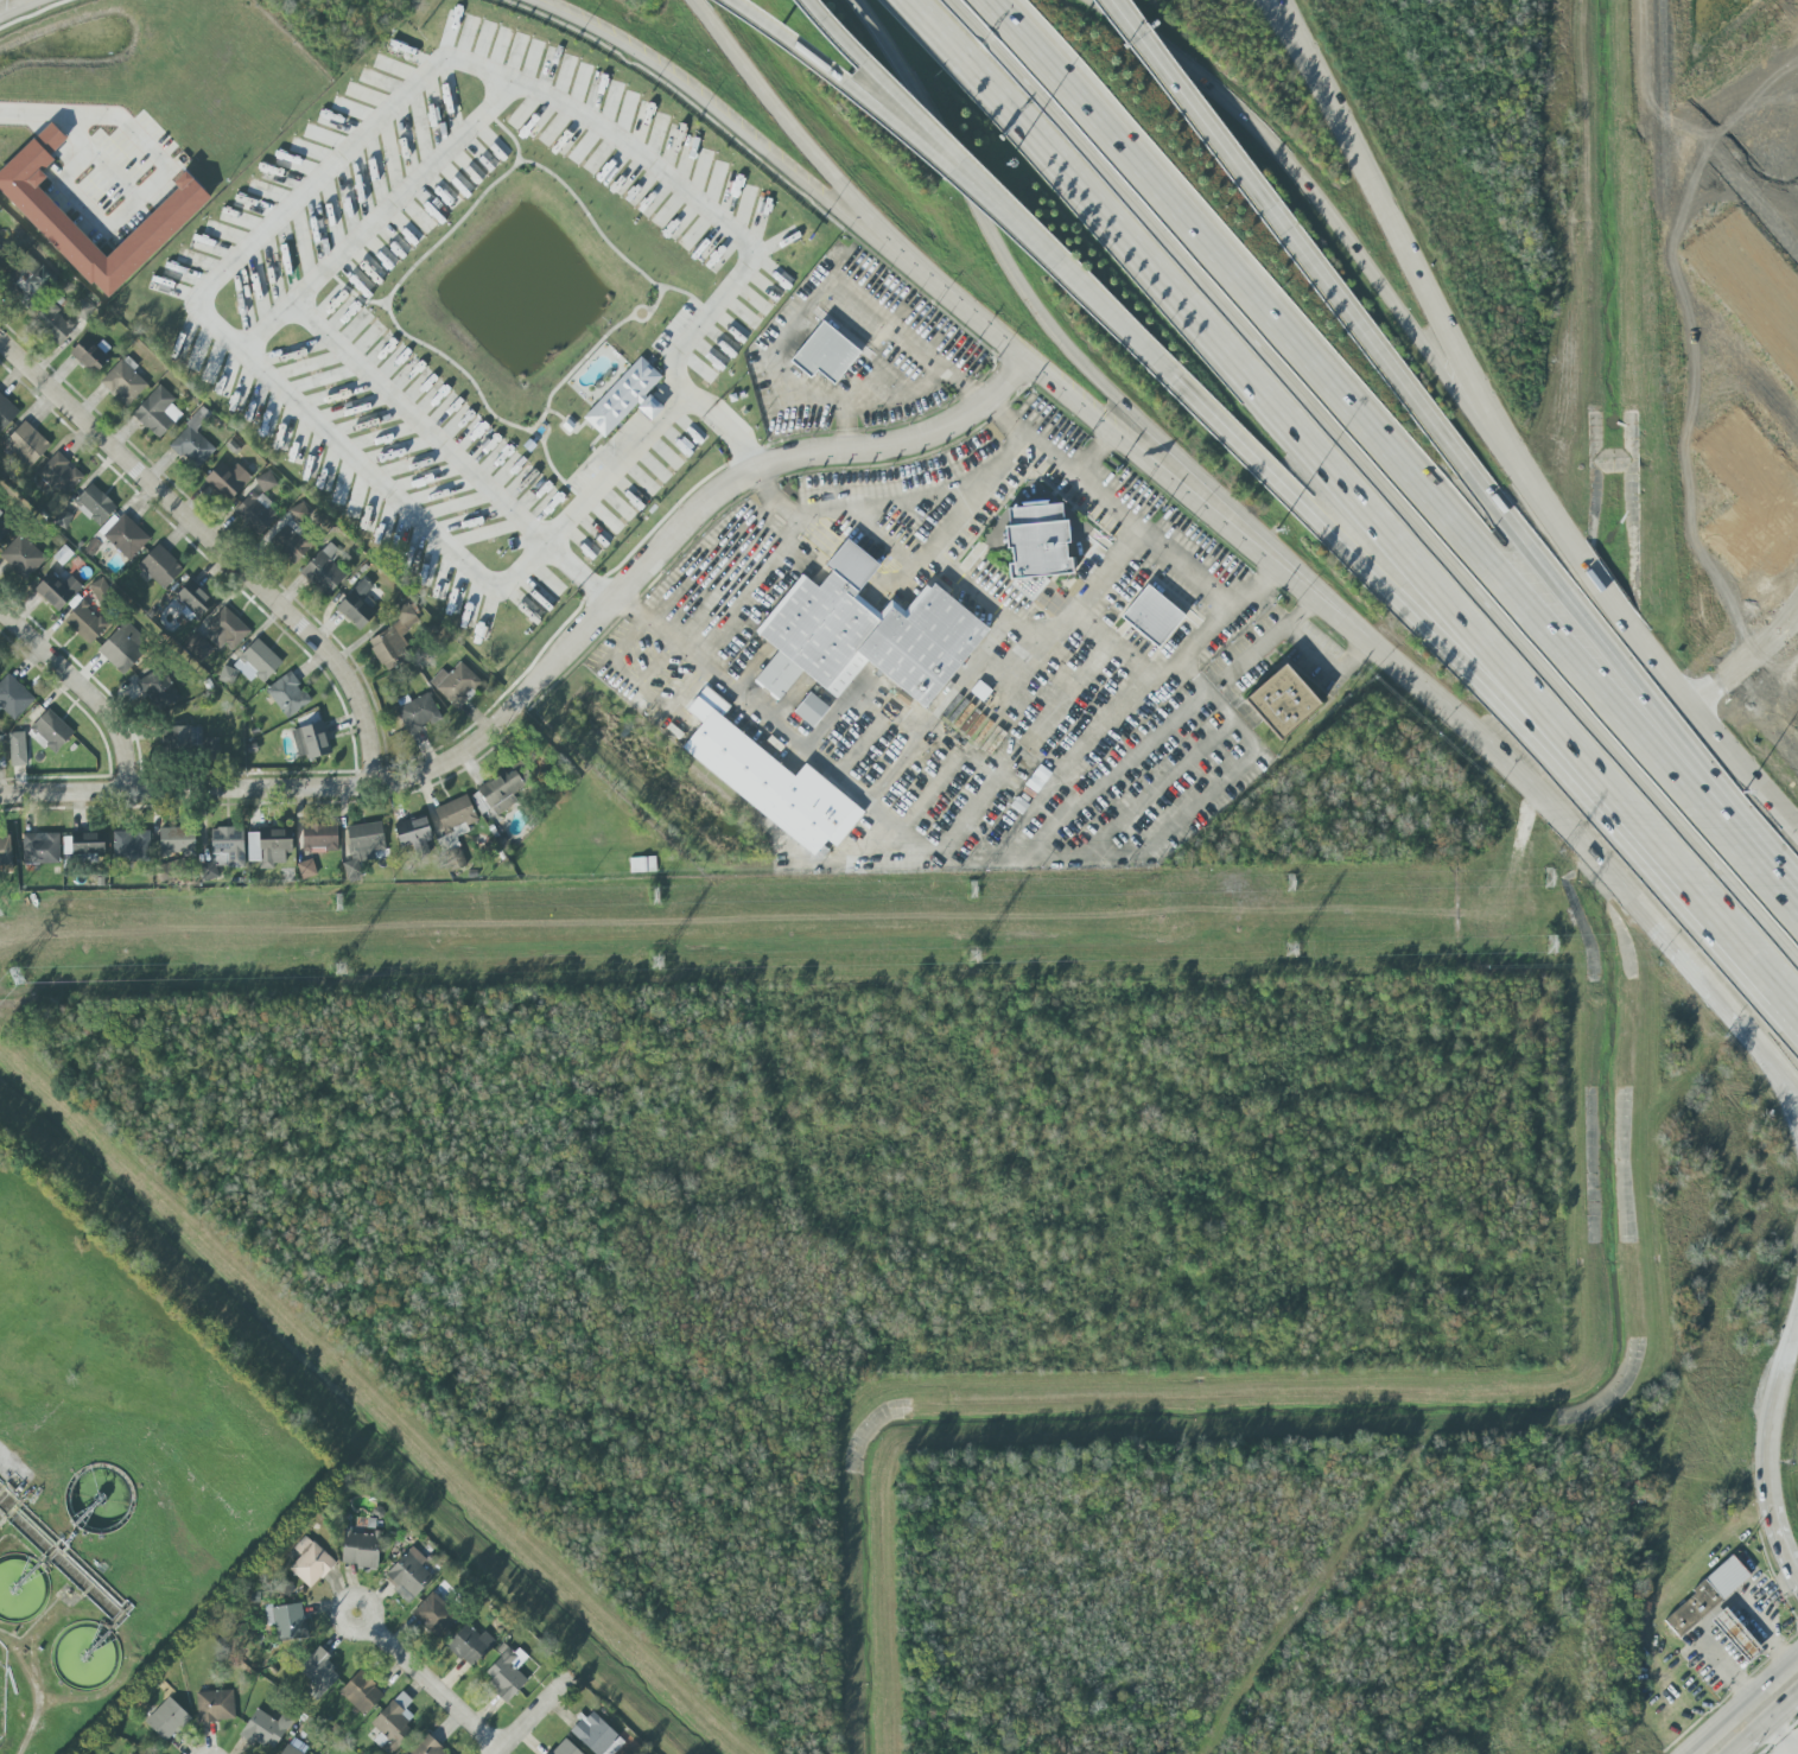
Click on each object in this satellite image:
road: (24, 8)
road: (826, 74)
road: (865, 76)
road: (1315, 76)
road: (710, 107)
road: (1196, 115)
road: (789, 120)
road: (78, 138)
road: (140, 140)
road: (451, 150)
road: (1779, 167)
road: (1298, 190)
road: (981, 193)
road: (81, 204)
building: (158, 227)
road: (919, 275)
building: (36, 284)
road: (831, 285)
road: (1025, 288)
road: (1103, 309)
building: (83, 310)
building: (53, 324)
road: (268, 326)
road: (211, 328)
building: (824, 354)
building: (91, 355)
building: (123, 382)
road: (898, 394)
road: (1245, 394)
building: (625, 398)
building: (6, 412)
building: (157, 412)
road: (1104, 427)
road: (1500, 436)
building: (27, 443)
building: (192, 443)
road: (1392, 452)
road: (1088, 456)
road: (614, 472)
building: (59, 475)
building: (228, 479)
building: (266, 482)
road: (1367, 485)
building: (95, 504)
road: (920, 506)
road: (981, 507)
building: (255, 513)
building: (298, 513)
building: (62, 519)
road: (1129, 529)
building: (126, 536)
road: (215, 542)
building: (292, 542)
building: (1035, 546)
building: (21, 557)
road: (1535, 565)
building: (160, 567)
building: (324, 571)
road: (957, 580)
building: (100, 590)
road: (1309, 590)
building: (57, 591)
road: (1379, 593)
road: (748, 596)
building: (193, 599)
building: (357, 606)
building: (1151, 616)
building: (85, 622)
building: (227, 631)
building: (863, 634)
building: (394, 637)
building: (122, 648)
road: (1310, 649)
building: (256, 662)
road: (1746, 662)
road: (549, 672)
road: (1155, 675)
building: (456, 684)
road: (83, 687)
building: (159, 691)
building: (288, 695)
building: (13, 697)
building: (1282, 701)
building: (811, 710)
building: (419, 713)
road: (774, 725)
building: (51, 731)
building: (182, 738)
building: (310, 741)
building: (17, 749)
building: (1, 751)
building: (768, 779)
building: (501, 792)
building: (453, 822)
road: (1561, 822)
building: (414, 834)
building: (320, 838)
building: (177, 840)
building: (66, 845)
building: (88, 845)
building: (131, 845)
building: (268, 847)
building: (362, 847)
building: (40, 849)
building: (5, 851)
building: (224, 851)
road: (1107, 853)
building: (642, 864)
power tower: (1546, 864)
building: (306, 869)
power tower: (1286, 870)
power tower: (974, 881)
power tower: (648, 885)
power tower: (344, 900)
road: (1696, 909)
power tower: (24, 913)
power tower: (1551, 933)
power tower: (1289, 940)
power tower: (663, 947)
power tower: (970, 947)
power tower: (341, 954)
power tower: (18, 964)
road: (1770, 1051)
road: (1771, 1072)
road: (1790, 1372)
road: (7, 1457)
road: (1770, 1489)
building: (97, 1499)
building: (361, 1550)
building: (310, 1562)
building: (407, 1575)
building: (282, 1588)
building: (20, 1589)
building: (1707, 1595)
building: (436, 1614)
building: (286, 1621)
building: (1735, 1634)
building: (470, 1645)
building: (83, 1656)
building: (318, 1670)
building: (506, 1674)
road: (438, 1683)
building: (361, 1692)
road: (1739, 1702)
building: (215, 1705)
road: (536, 1715)
building: (167, 1718)
road: (1765, 1722)
building: (393, 1723)
building: (266, 1729)
building: (596, 1735)
road: (1778, 1739)
building: (427, 1747)
building: (293, 1748)
building: (565, 1748)
road: (1796, 1752)
road: (1733, 1753)

